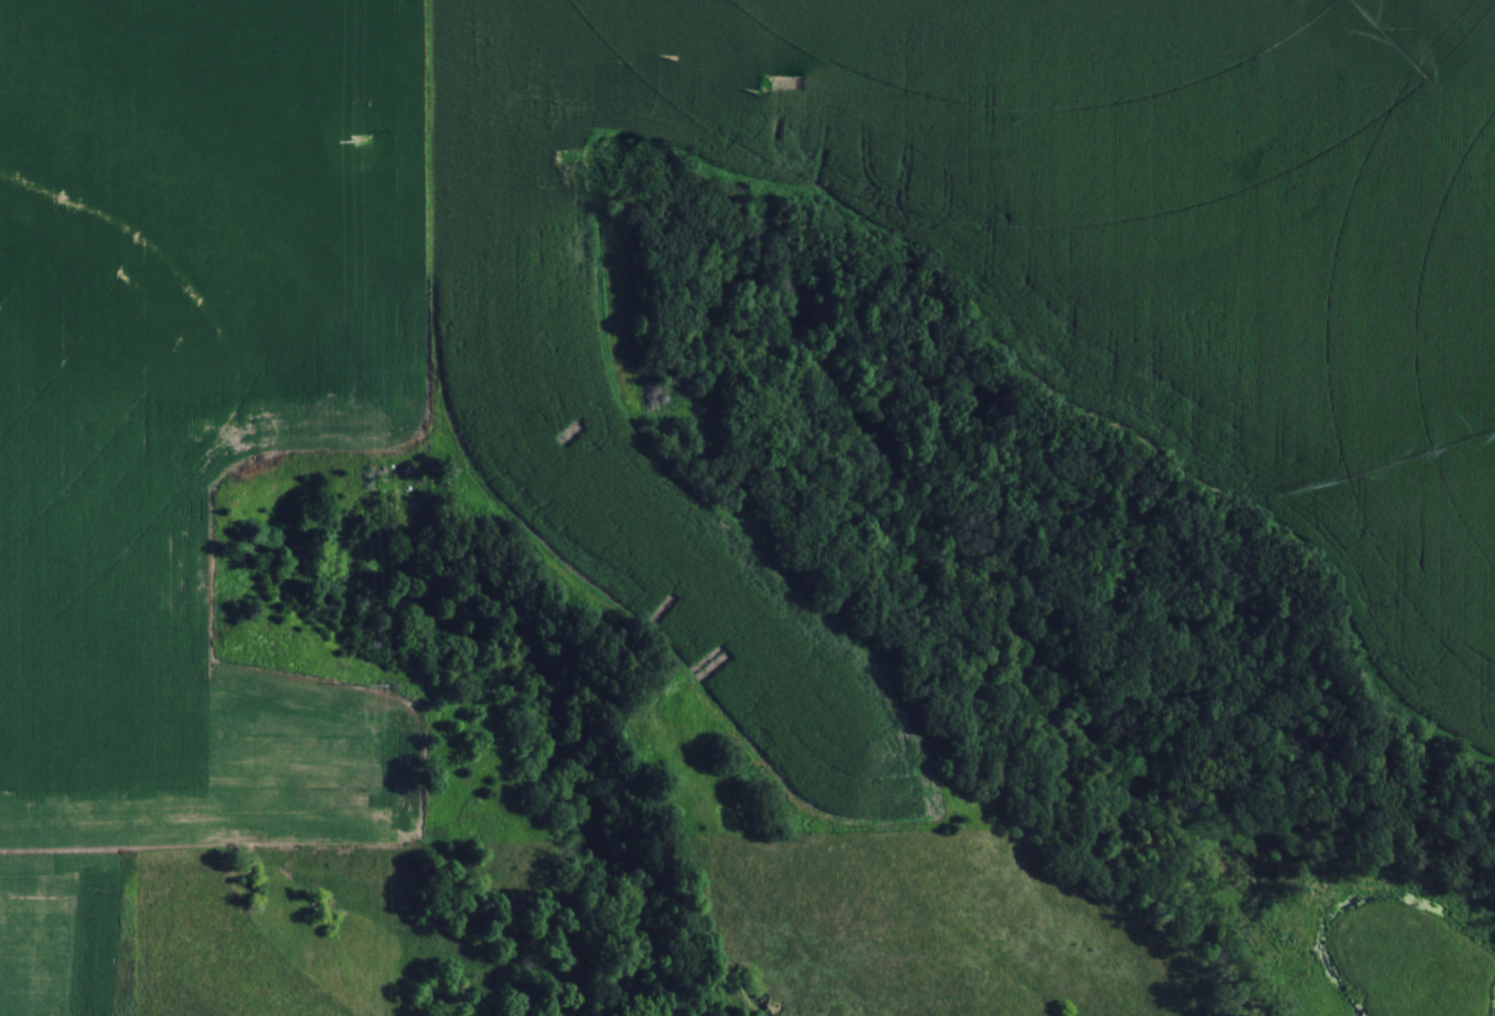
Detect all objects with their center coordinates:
power tower: (360, 138)
power tower: (361, 687)
river: (1361, 903)
river: (1492, 1007)

